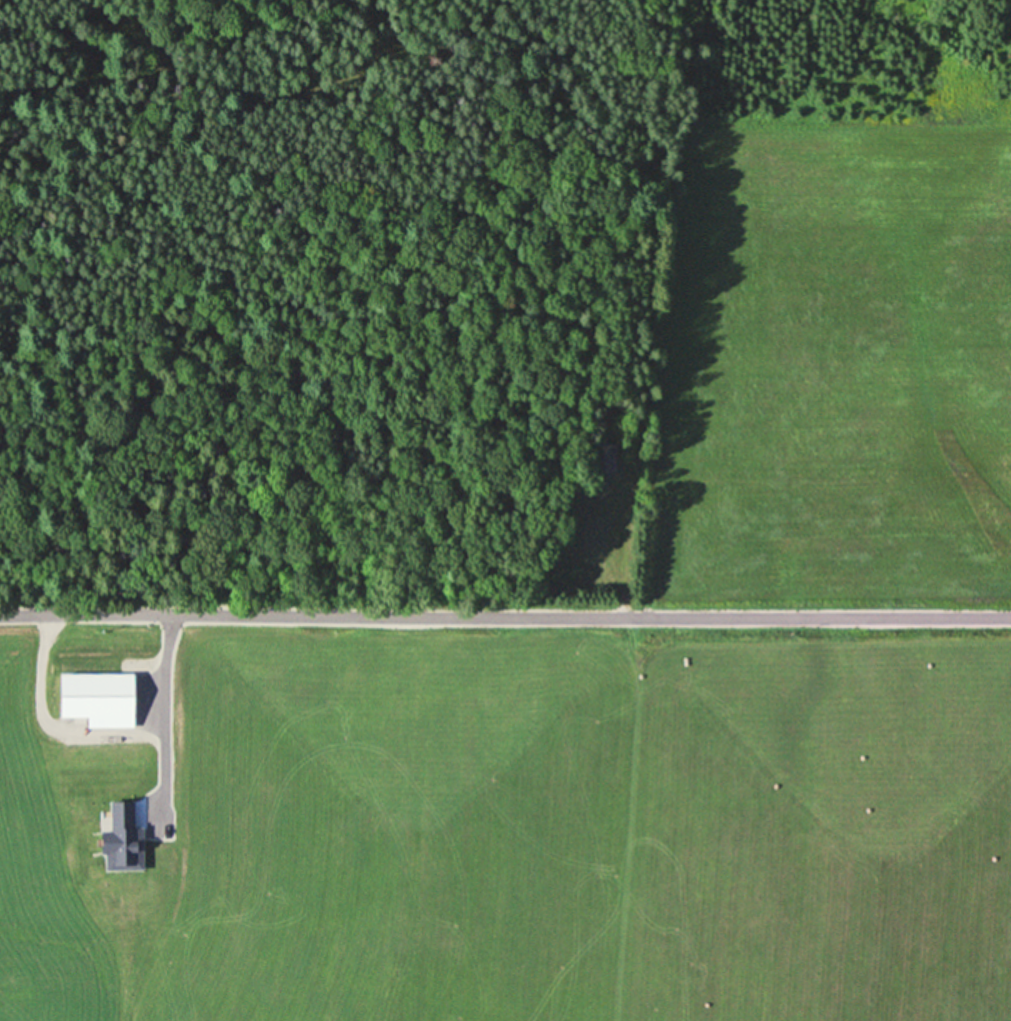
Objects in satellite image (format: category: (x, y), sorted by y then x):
road: (505, 618)
road: (161, 721)
building: (130, 797)
building: (131, 882)

